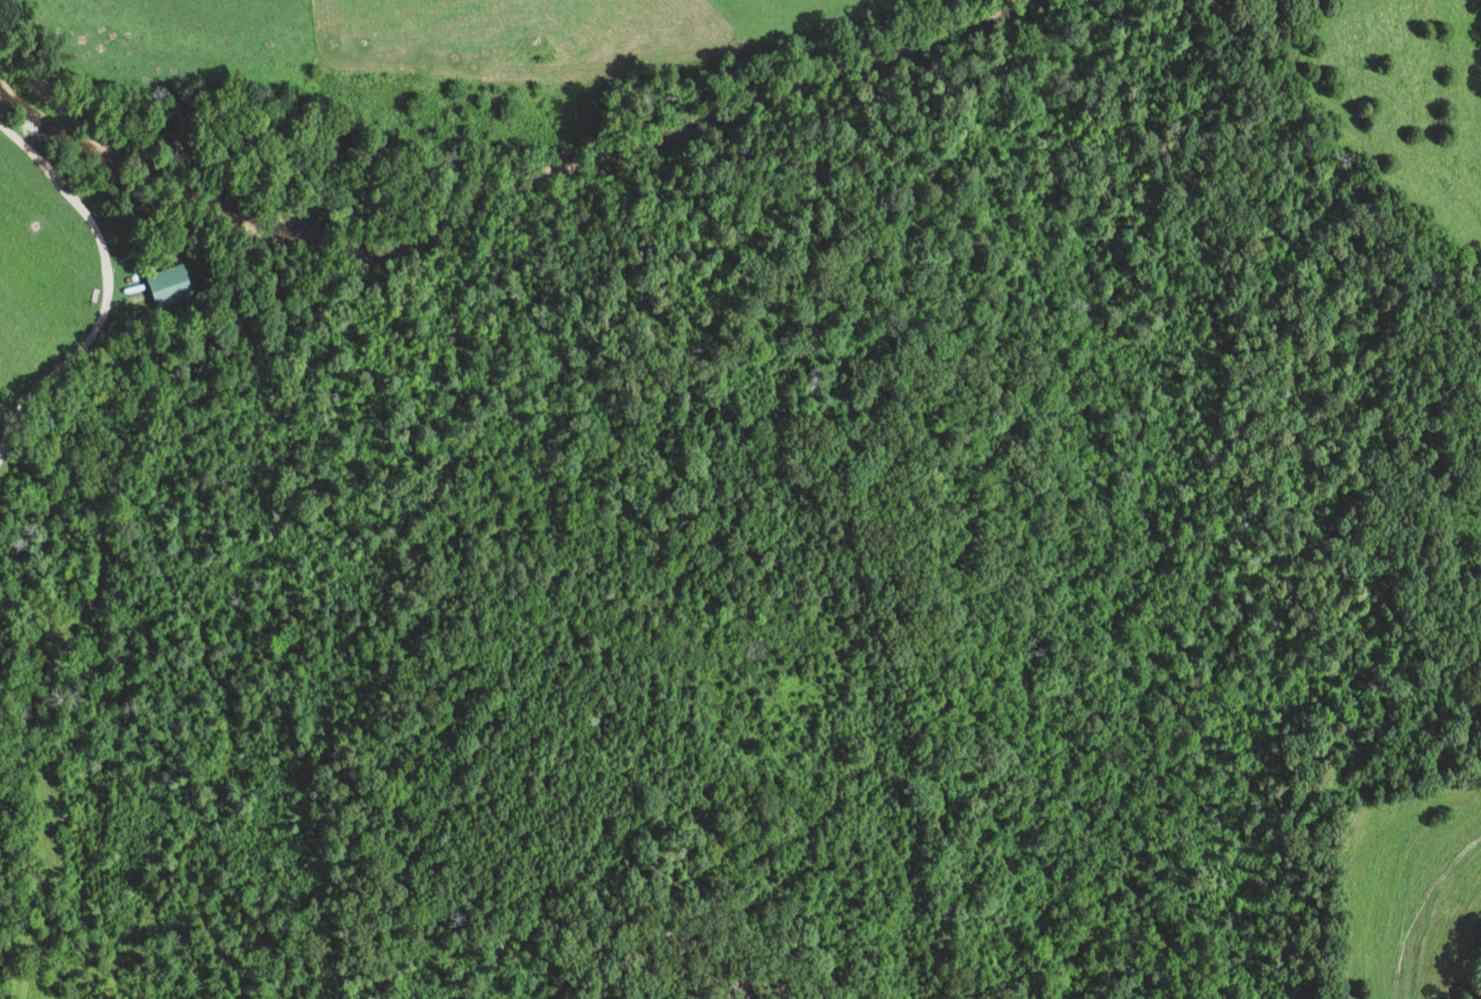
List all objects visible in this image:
road: (105, 288)
building: (167, 288)

